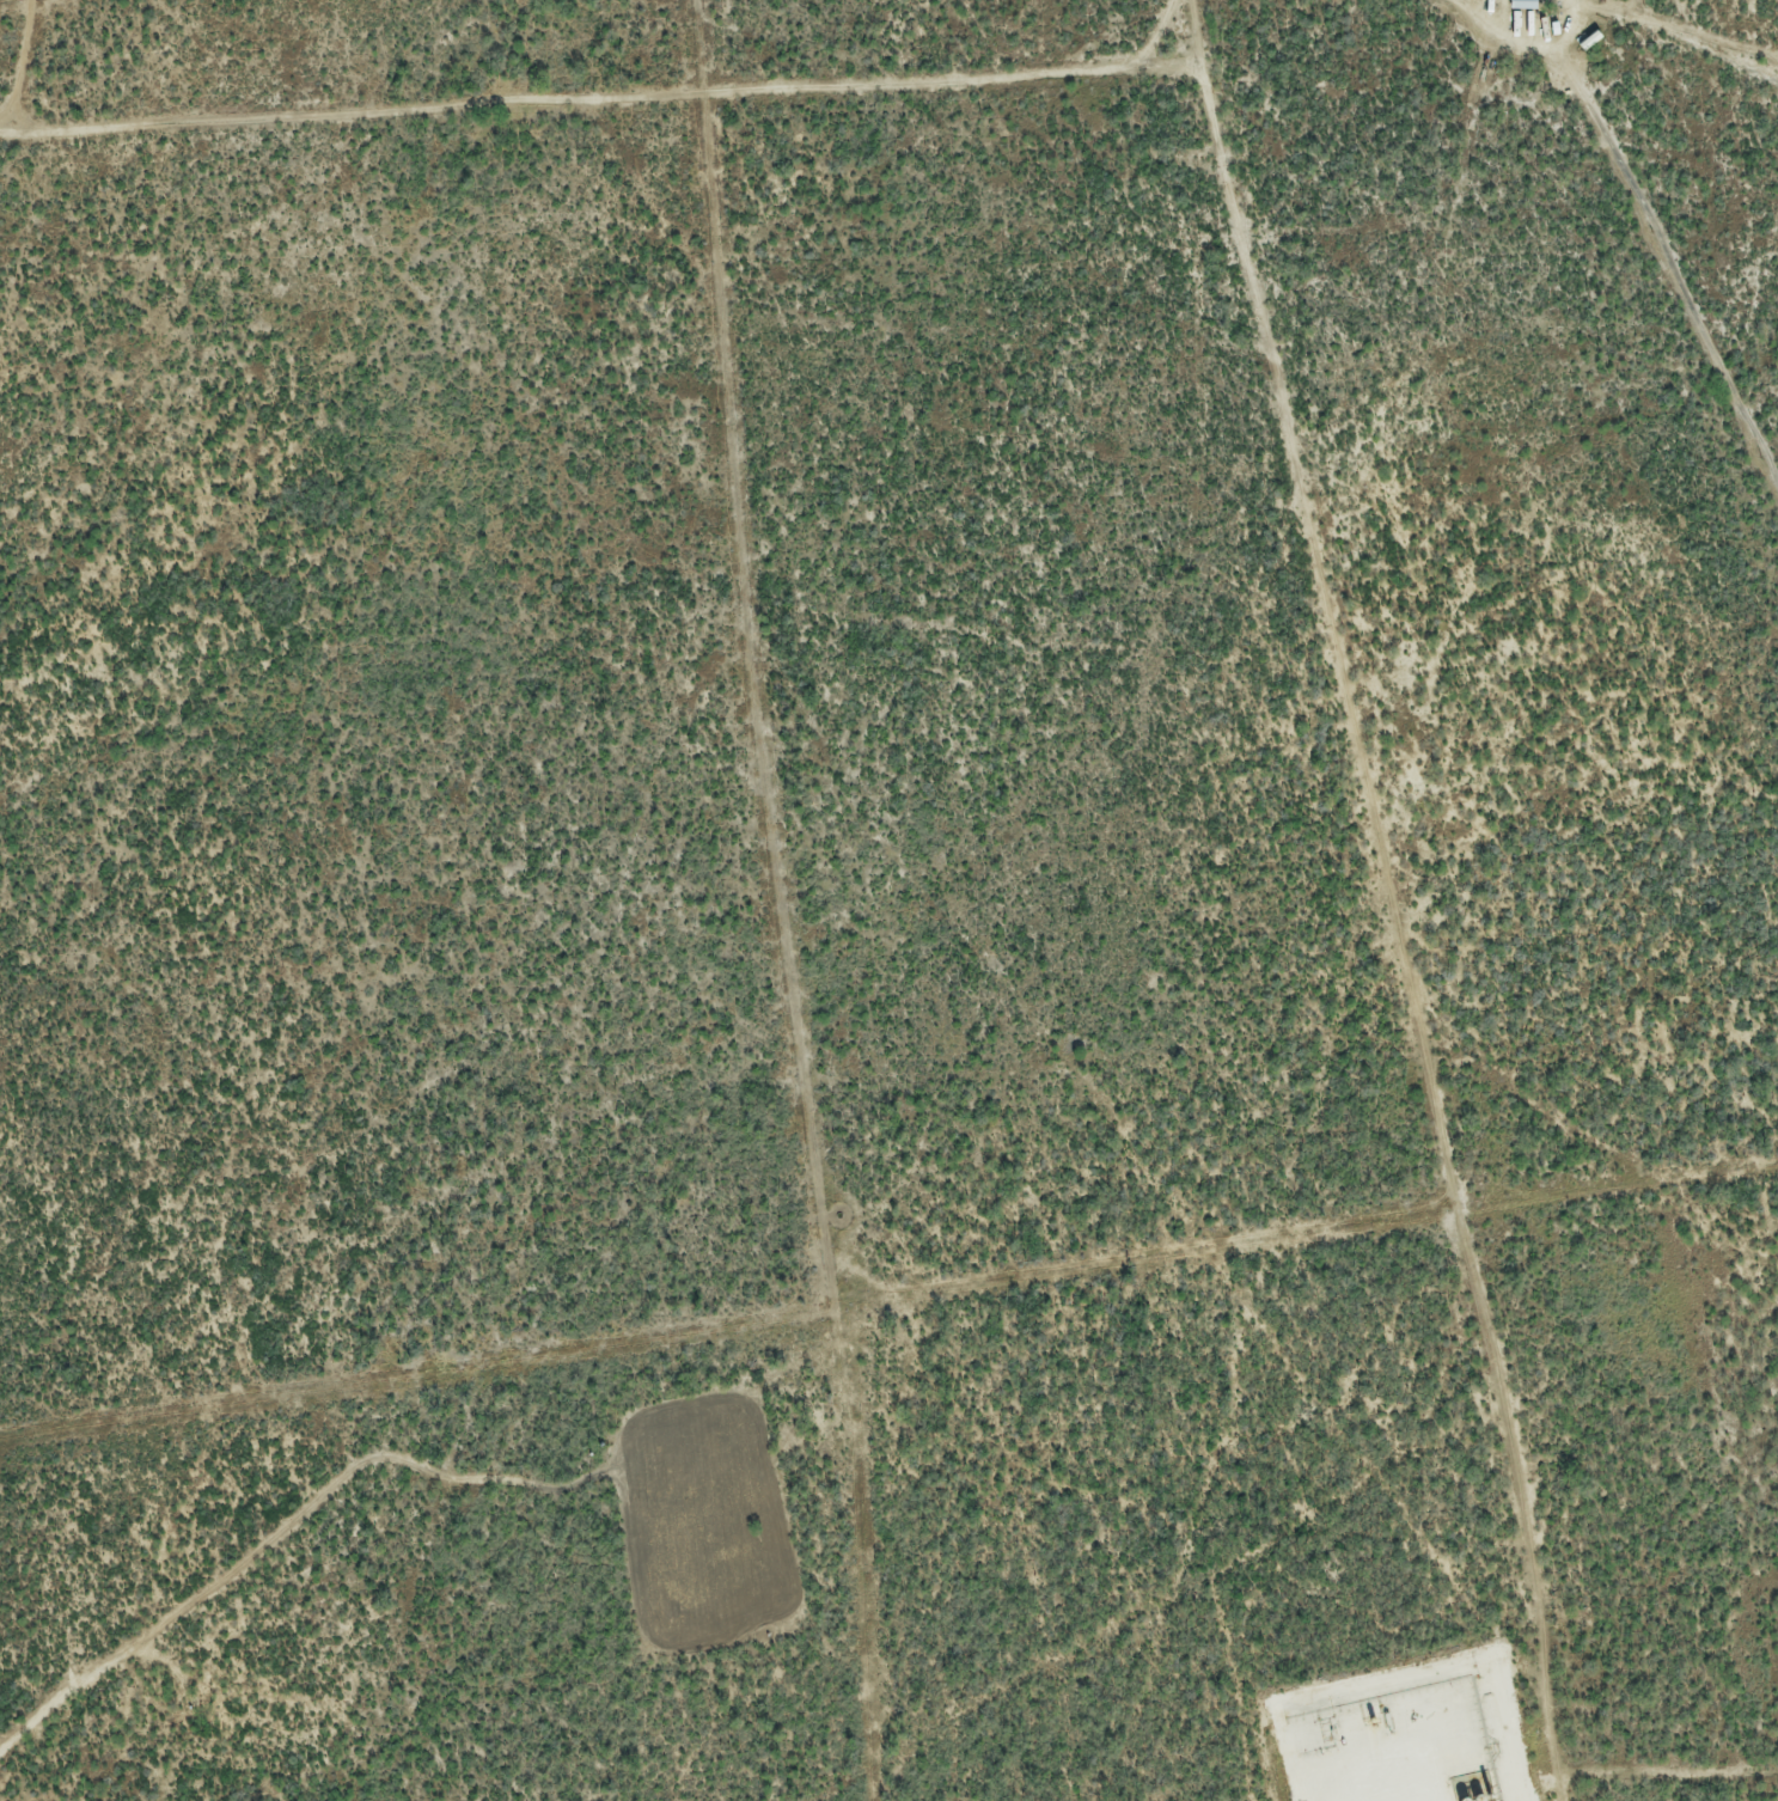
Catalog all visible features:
building: (1522, 5)
road: (1423, 1758)

